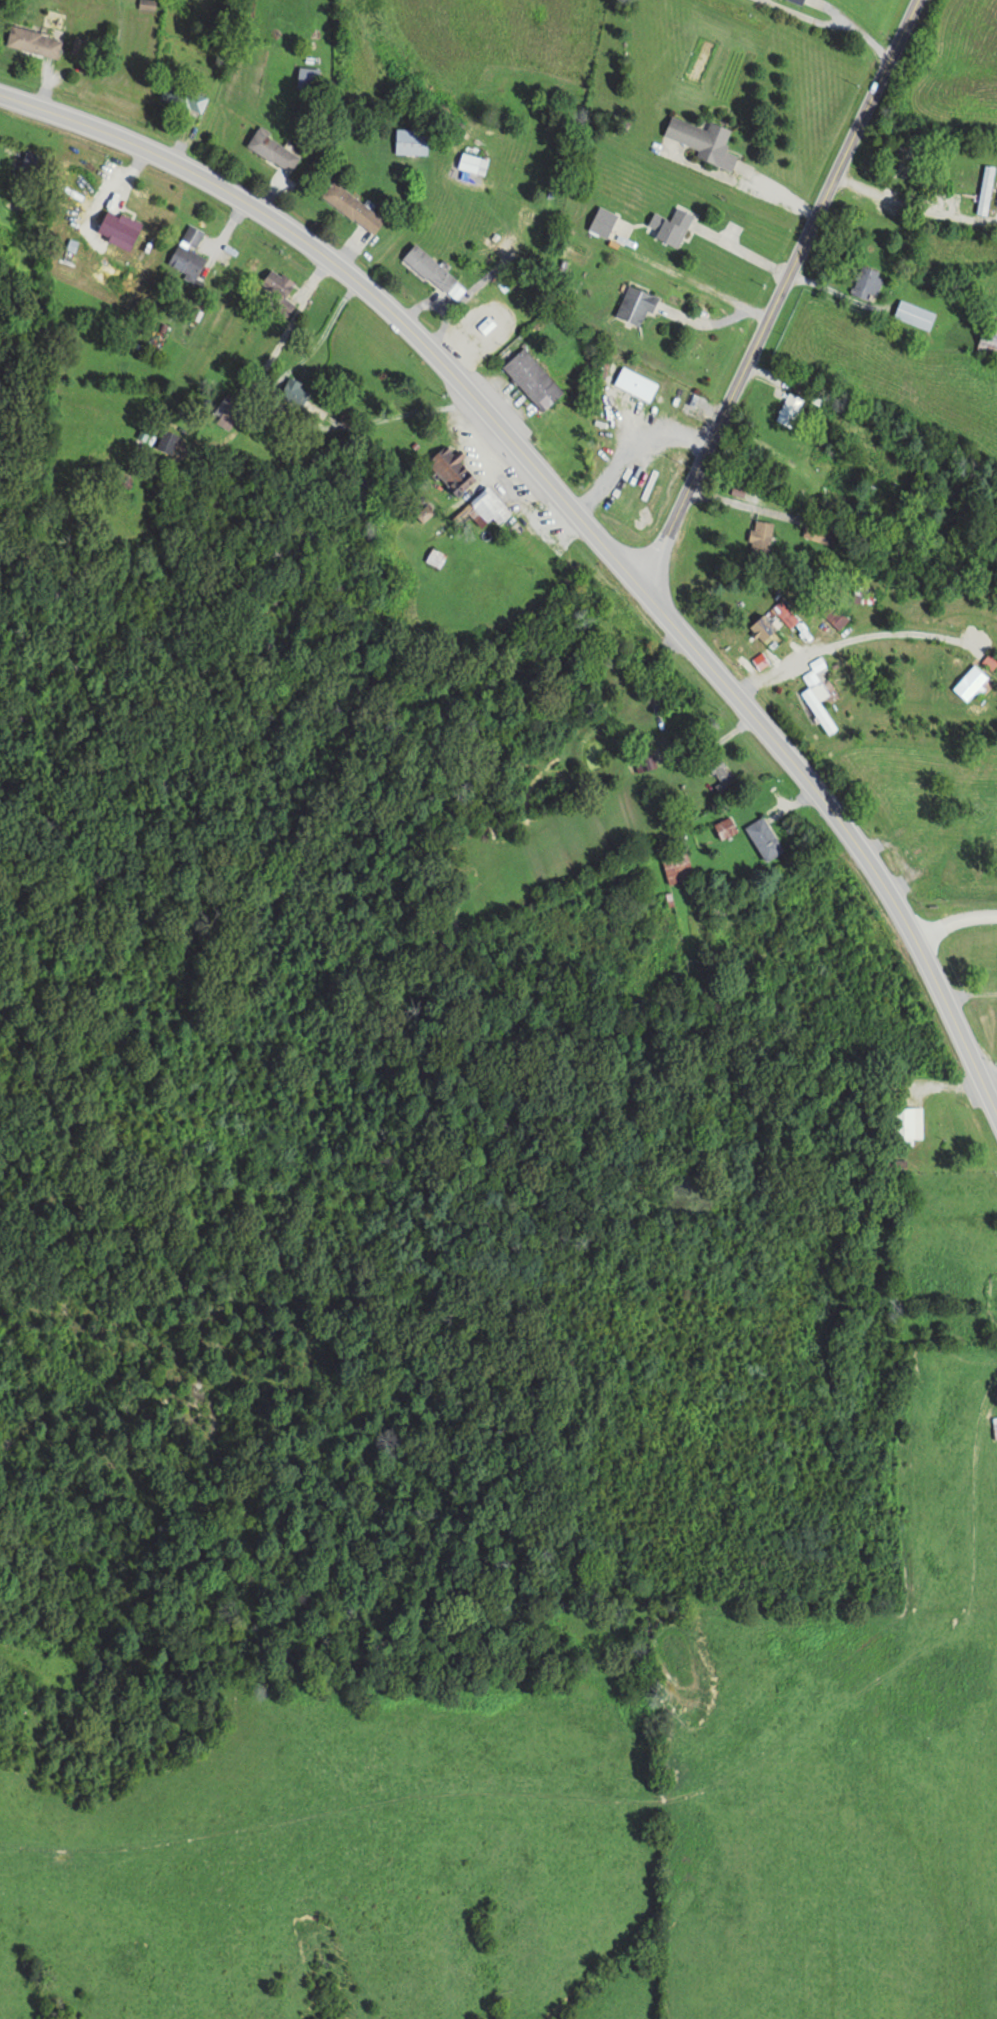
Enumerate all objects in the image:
building: (798, 1)
building: (33, 42)
building: (192, 101)
building: (410, 141)
building: (703, 141)
building: (272, 150)
building: (472, 163)
building: (352, 207)
building: (155, 208)
building: (602, 222)
building: (670, 227)
building: (191, 235)
building: (186, 260)
building: (433, 272)
building: (276, 283)
building: (866, 283)
road: (777, 293)
building: (635, 305)
building: (913, 314)
building: (491, 319)
building: (988, 338)
building: (532, 378)
building: (635, 383)
building: (294, 391)
building: (226, 410)
building: (788, 410)
building: (451, 469)
building: (833, 470)
building: (488, 506)
road: (578, 516)
building: (817, 530)
building: (761, 539)
building: (435, 557)
building: (836, 616)
building: (771, 620)
building: (989, 661)
building: (969, 681)
building: (817, 694)
building: (645, 756)
building: (720, 772)
building: (869, 787)
building: (725, 826)
building: (763, 837)
building: (917, 847)
building: (676, 867)
building: (906, 1121)

